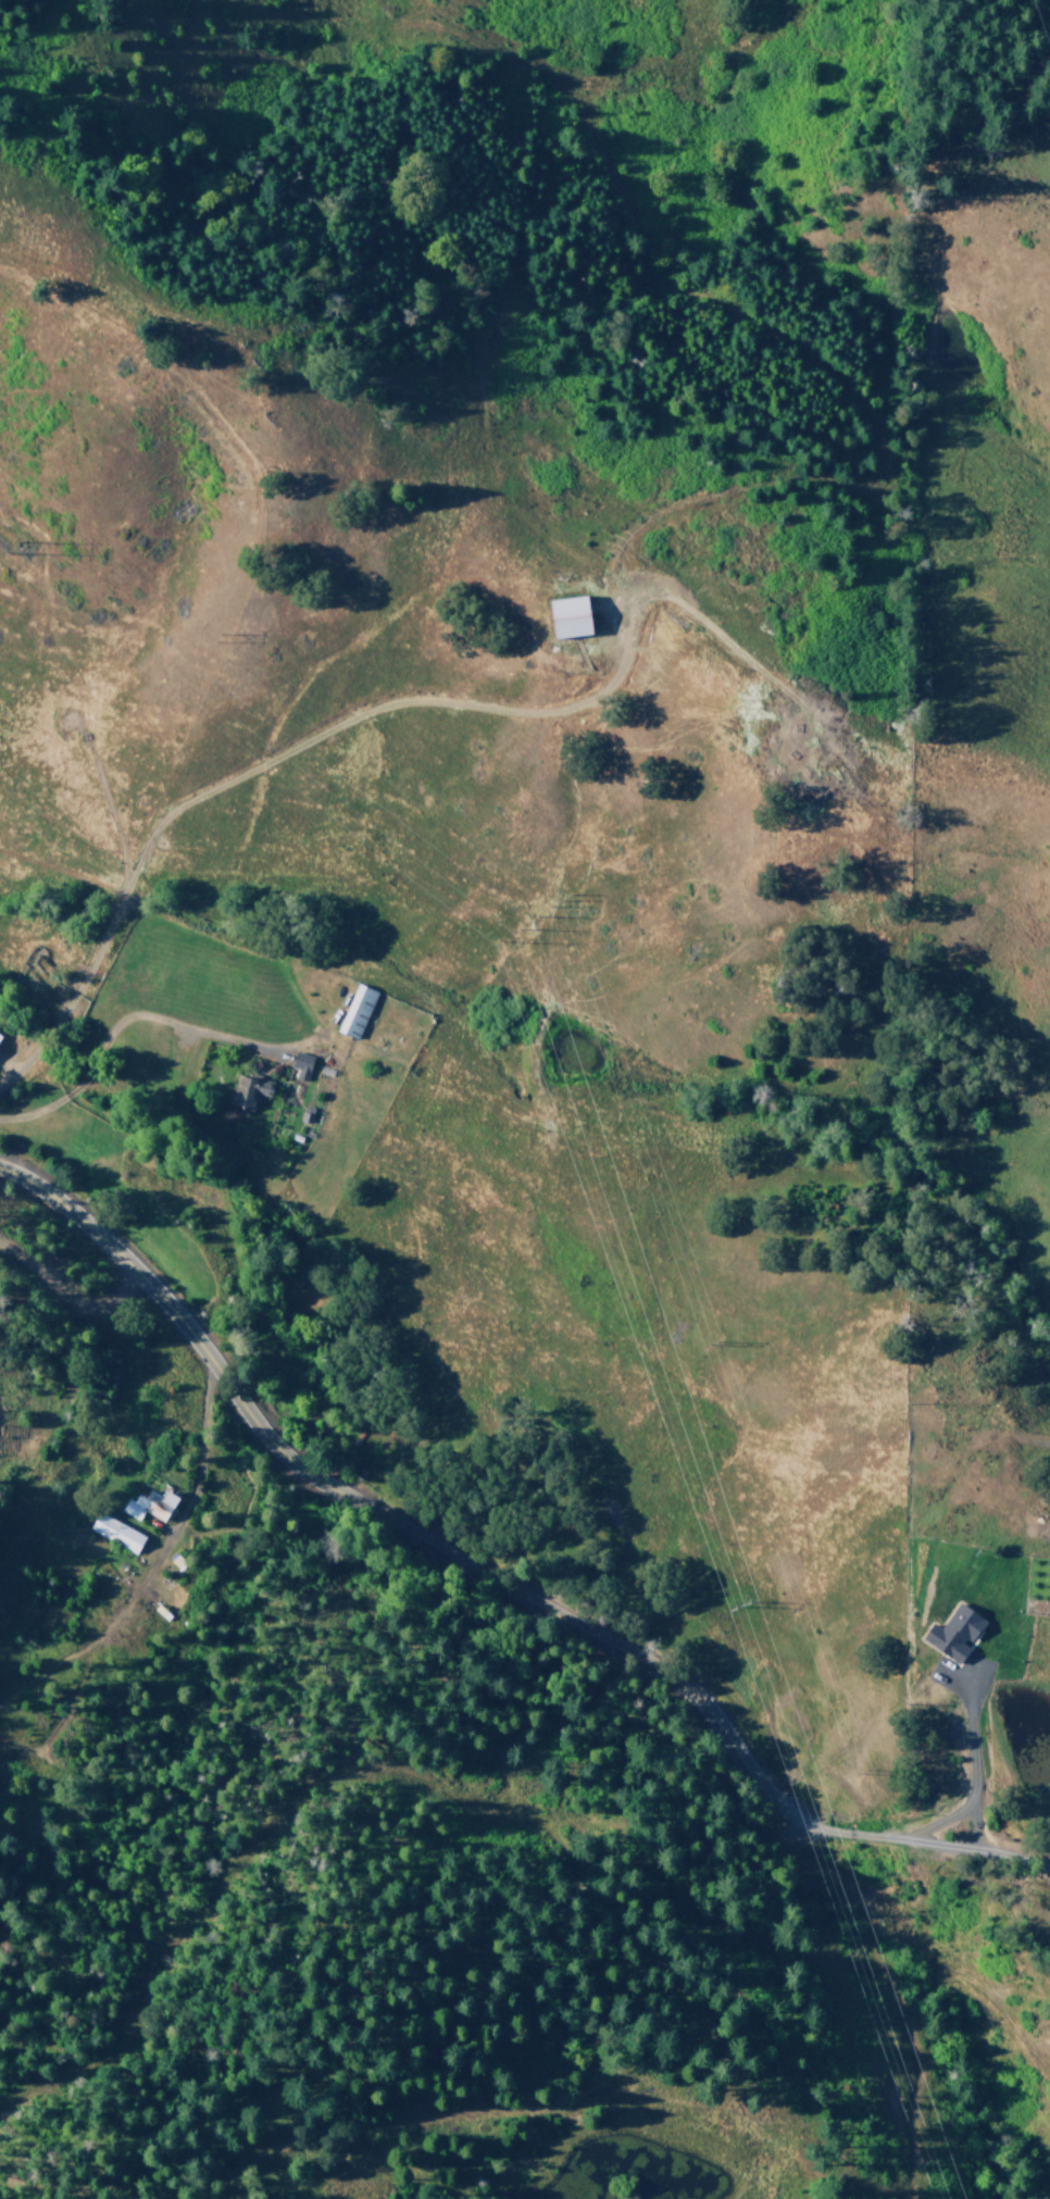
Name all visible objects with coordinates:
power tower: (2, 547)
building: (571, 616)
power tower: (513, 932)
building: (358, 1011)
building: (0, 1037)
building: (302, 1065)
building: (250, 1090)
road: (62, 1294)
building: (150, 1505)
road: (377, 1522)
building: (117, 1533)
power tower: (740, 1603)
building: (957, 1632)
road: (922, 1842)

